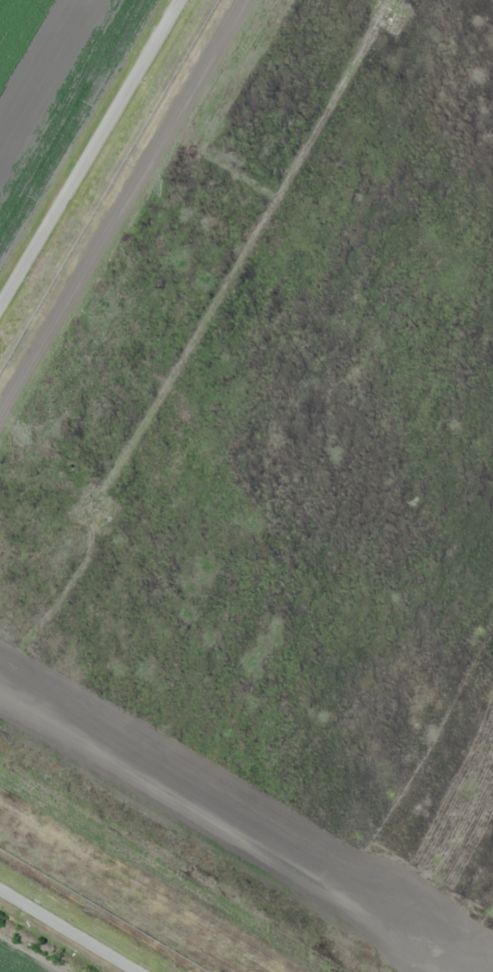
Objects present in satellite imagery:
road: (89, 150)
road: (66, 931)

